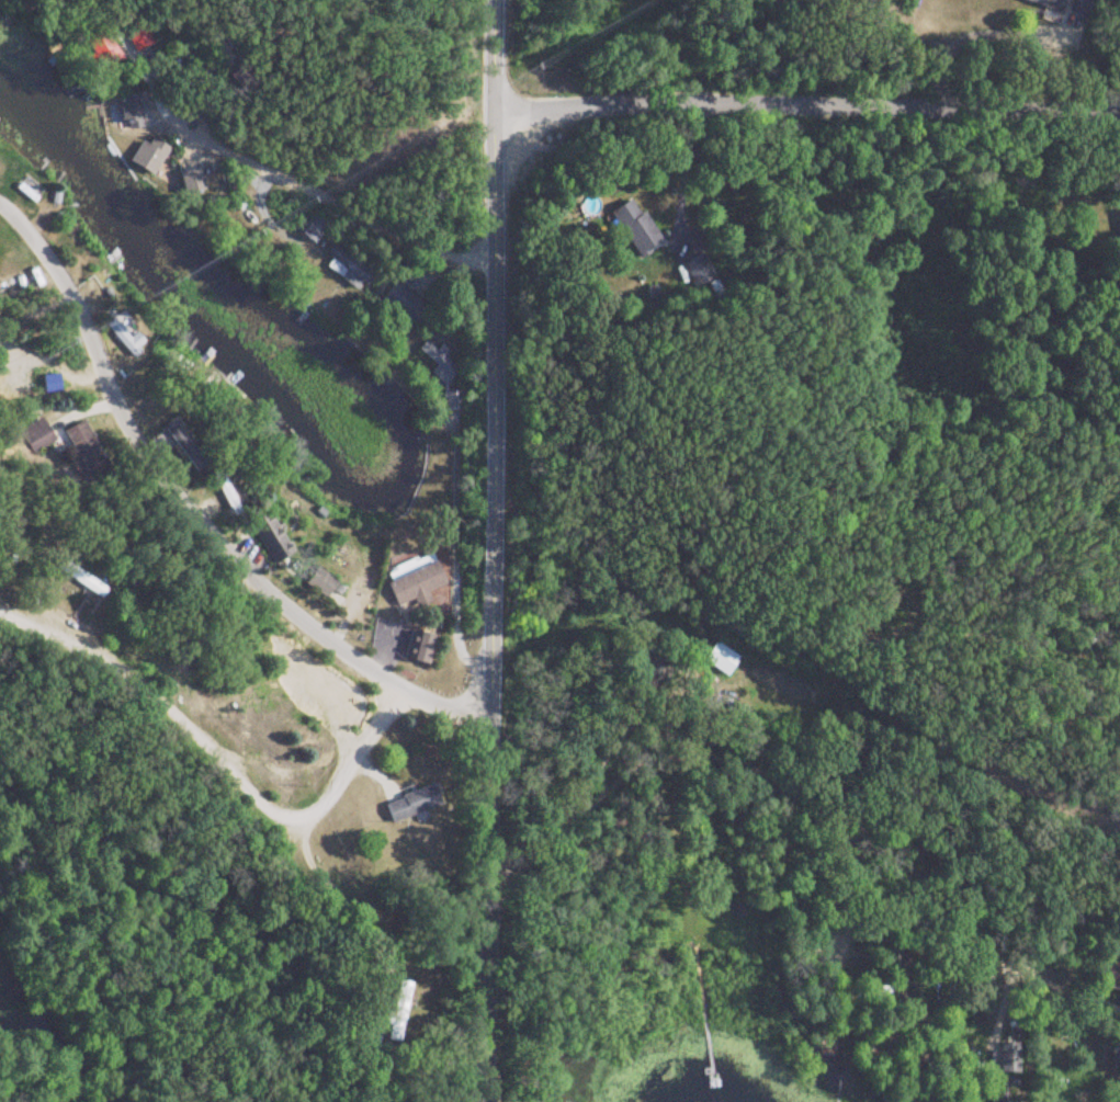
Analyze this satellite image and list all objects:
building: (1066, 5)
road: (964, 14)
road: (808, 102)
building: (127, 112)
building: (147, 155)
road: (267, 162)
road: (682, 173)
building: (310, 228)
building: (635, 229)
building: (347, 269)
building: (690, 272)
building: (404, 305)
building: (123, 334)
building: (432, 361)
building: (84, 450)
road: (210, 502)
road: (456, 530)
road: (494, 550)
building: (415, 580)
building: (417, 646)
road: (216, 724)
road: (814, 781)
road: (203, 784)
building: (410, 804)
building: (1115, 979)

